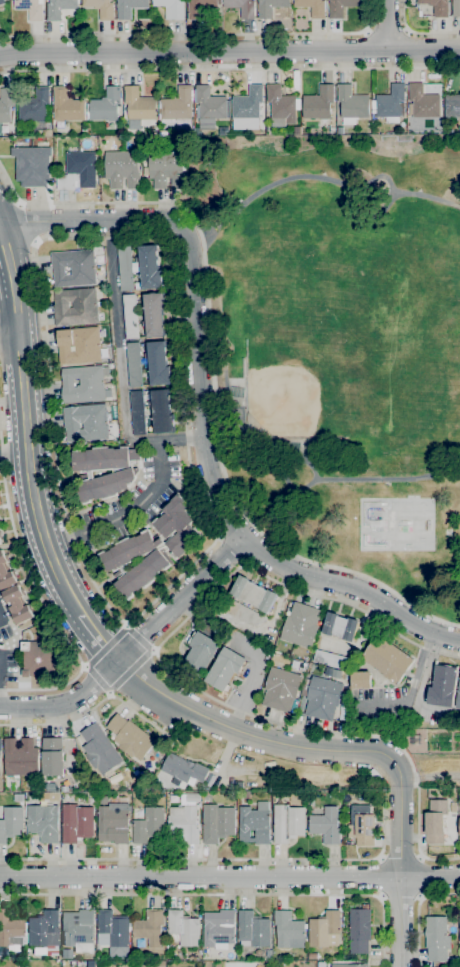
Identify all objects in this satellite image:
building: (1, 1)
building: (129, 7)
building: (198, 7)
building: (241, 7)
building: (270, 7)
building: (312, 7)
building: (340, 7)
building: (437, 7)
building: (30, 8)
building: (59, 8)
building: (101, 8)
building: (170, 8)
building: (456, 8)
road: (385, 24)
road: (385, 30)
road: (418, 31)
road: (197, 33)
road: (365, 49)
road: (407, 49)
road: (229, 51)
road: (229, 69)
building: (296, 79)
building: (423, 101)
building: (6, 103)
building: (209, 103)
building: (247, 103)
building: (318, 103)
building: (391, 103)
building: (352, 104)
building: (35, 105)
building: (66, 105)
building: (105, 105)
building: (452, 105)
building: (281, 106)
building: (138, 107)
building: (178, 108)
building: (84, 130)
building: (297, 130)
building: (340, 130)
building: (47, 132)
building: (31, 165)
building: (122, 169)
building: (166, 169)
building: (78, 171)
road: (316, 179)
road: (34, 223)
building: (73, 267)
building: (139, 267)
road: (191, 297)
building: (75, 307)
building: (153, 313)
building: (130, 316)
road: (118, 331)
road: (9, 333)
building: (78, 345)
park: (338, 347)
building: (158, 363)
building: (134, 364)
road: (212, 381)
building: (84, 384)
road: (22, 386)
building: (160, 411)
building: (137, 412)
building: (85, 422)
road: (166, 440)
road: (14, 452)
building: (120, 475)
road: (329, 481)
road: (143, 500)
park: (395, 523)
road: (66, 535)
building: (0, 542)
building: (151, 548)
road: (230, 550)
road: (186, 569)
road: (60, 573)
road: (352, 588)
building: (13, 593)
building: (253, 593)
road: (45, 606)
building: (242, 613)
building: (301, 625)
building: (340, 626)
road: (97, 631)
road: (139, 637)
road: (132, 645)
building: (202, 651)
building: (39, 658)
road: (90, 659)
building: (332, 659)
building: (388, 659)
building: (225, 668)
road: (132, 673)
road: (175, 674)
building: (360, 679)
building: (443, 686)
building: (281, 689)
road: (422, 689)
road: (410, 693)
building: (323, 698)
building: (458, 698)
road: (93, 706)
road: (404, 726)
road: (254, 736)
building: (130, 737)
building: (0, 744)
building: (99, 749)
building: (21, 757)
building: (52, 757)
building: (183, 770)
road: (428, 778)
building: (246, 794)
building: (302, 795)
building: (19, 797)
building: (192, 797)
building: (103, 800)
building: (453, 807)
building: (435, 821)
building: (43, 822)
building: (76, 822)
building: (11, 823)
building: (114, 823)
building: (184, 823)
building: (217, 823)
building: (254, 823)
building: (287, 823)
building: (363, 824)
building: (149, 825)
building: (326, 825)
road: (400, 857)
road: (226, 858)
road: (400, 871)
road: (420, 876)
road: (230, 877)
road: (379, 877)
road: (224, 894)
road: (399, 898)
road: (417, 912)
building: (459, 924)
building: (78, 927)
building: (150, 927)
building: (183, 928)
building: (43, 929)
building: (111, 929)
building: (219, 929)
building: (253, 929)
building: (288, 929)
building: (325, 929)
building: (359, 930)
building: (10, 931)
building: (436, 938)
building: (258, 952)
building: (268, 955)
building: (312, 956)
building: (454, 962)
building: (350, 965)

